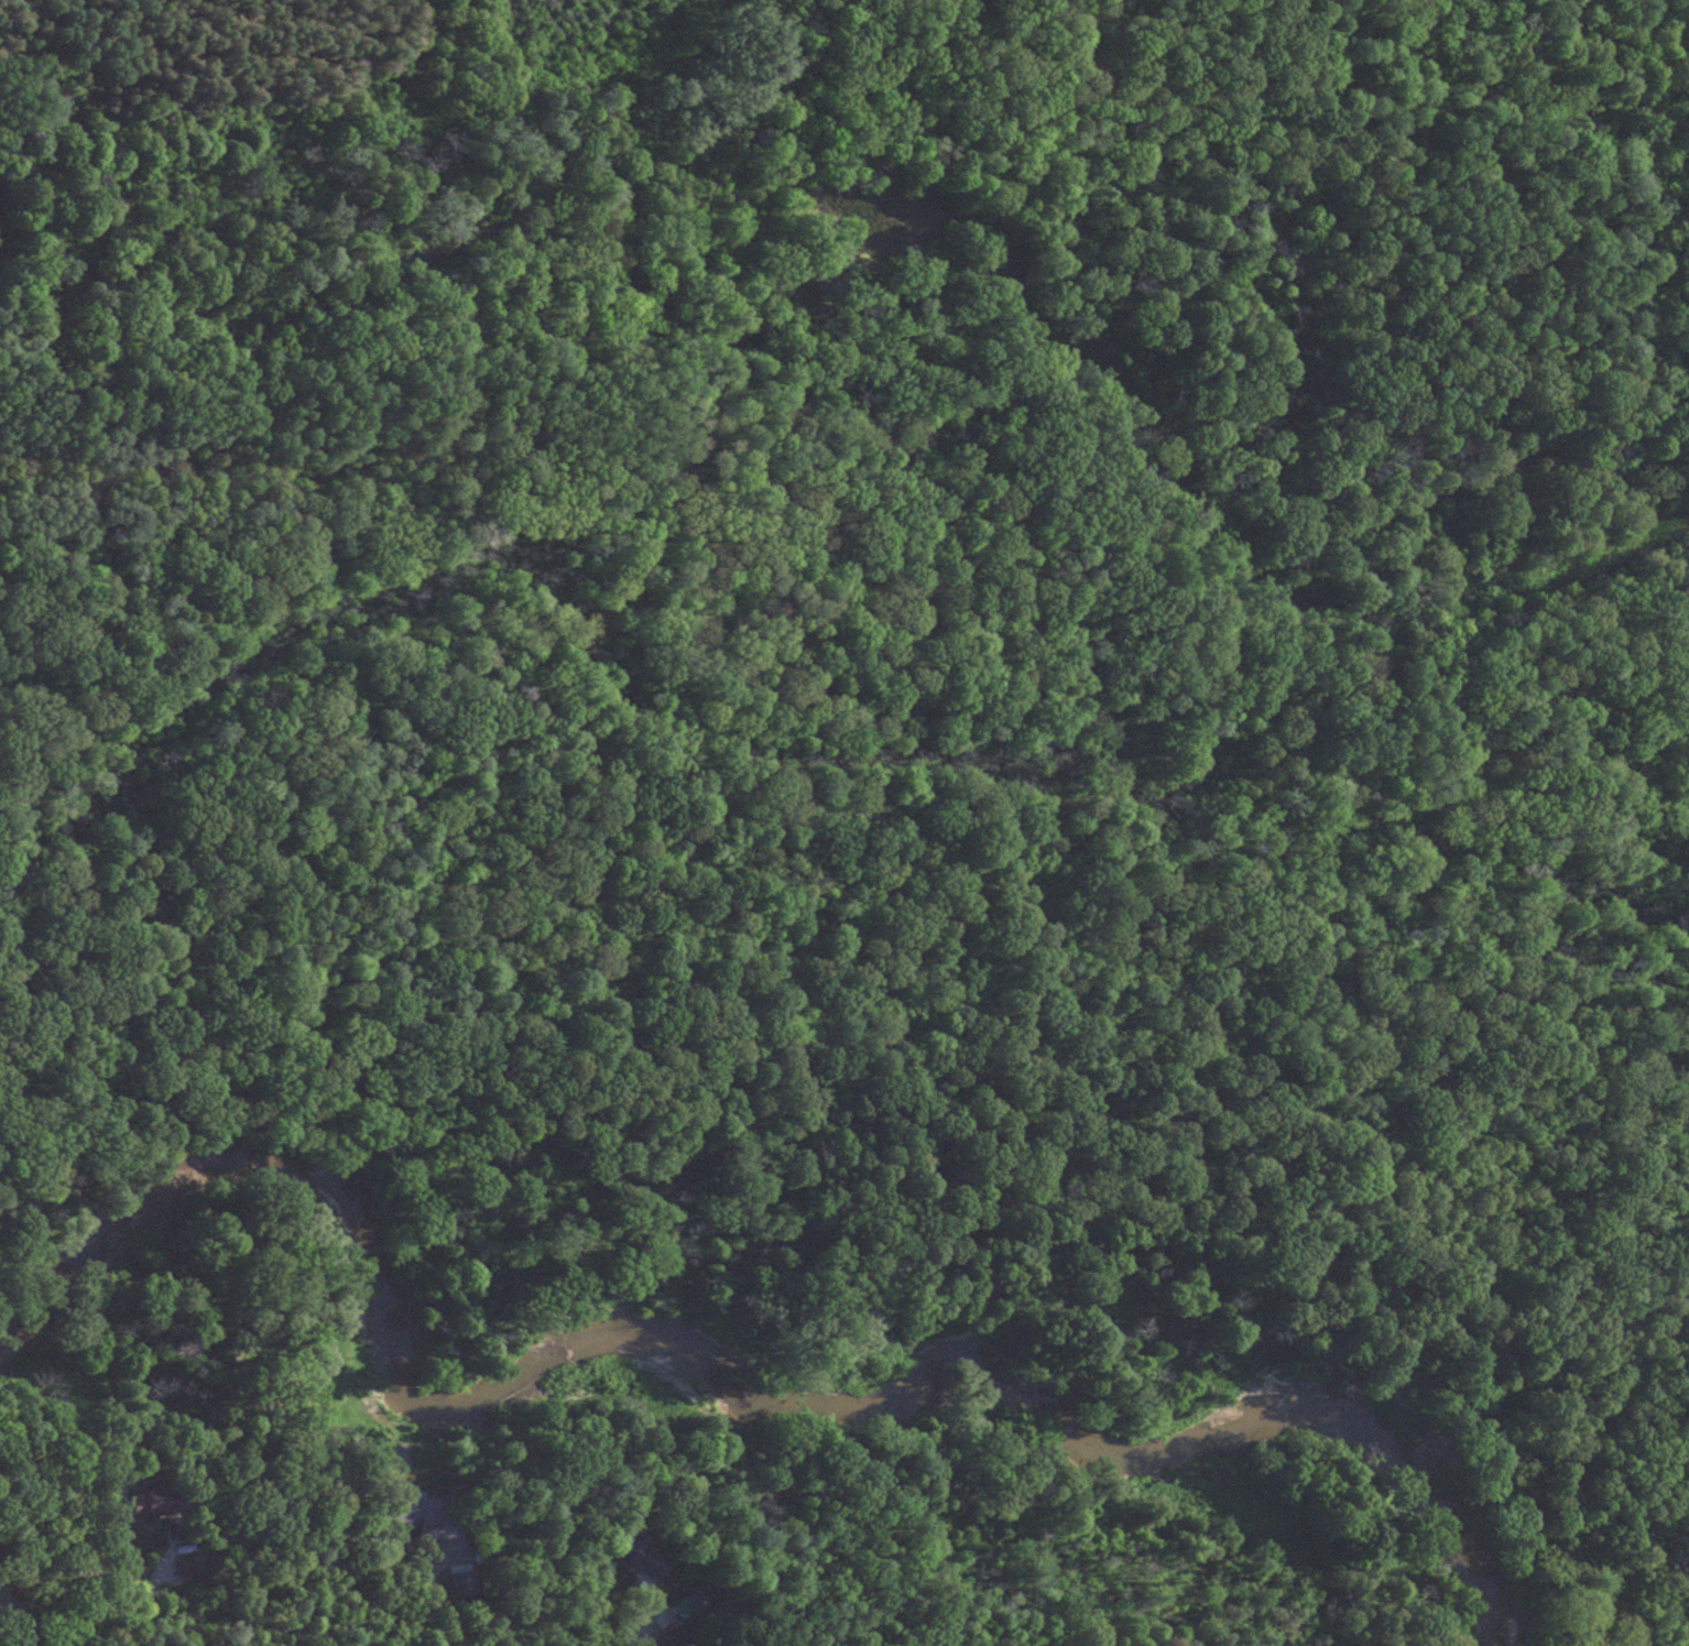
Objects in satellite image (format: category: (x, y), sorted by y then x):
river: (719, 1373)
building: (432, 1515)
building: (647, 1560)
building: (697, 1606)

